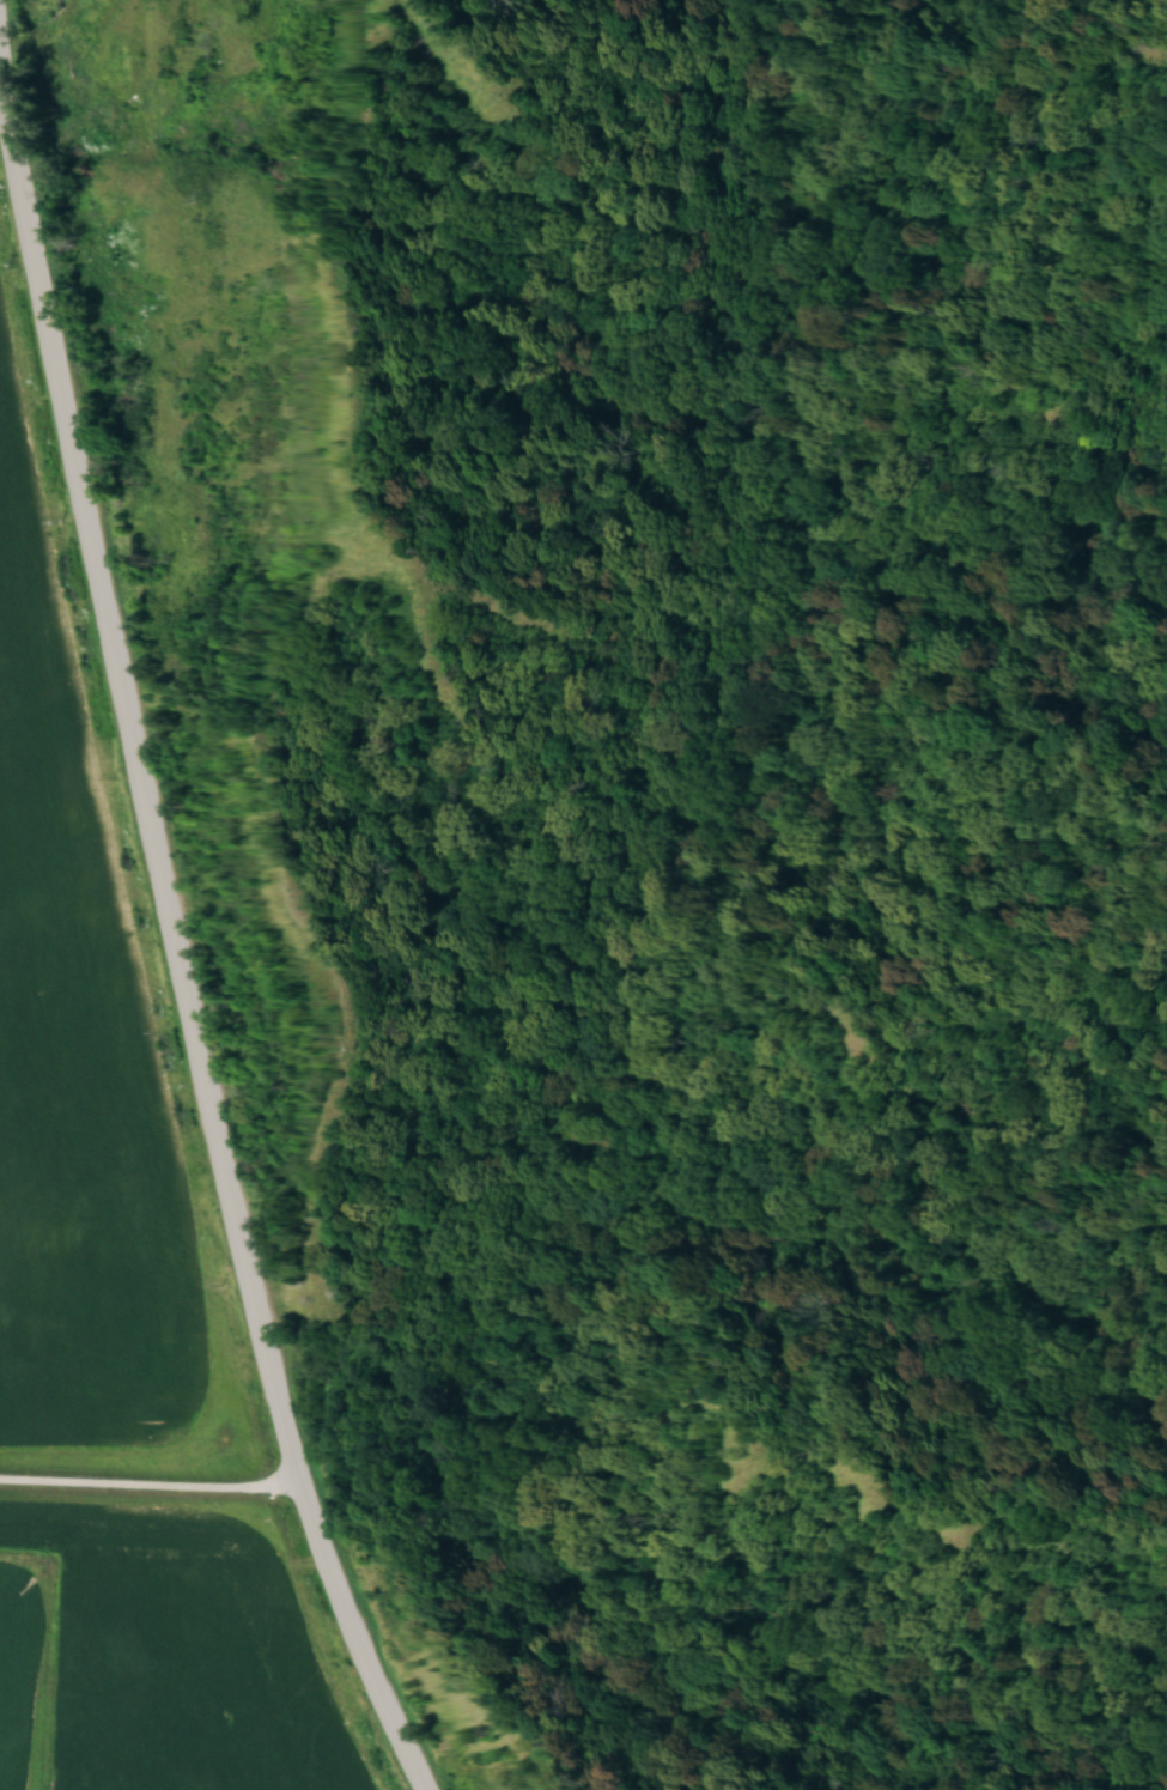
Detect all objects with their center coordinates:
road: (165, 979)

